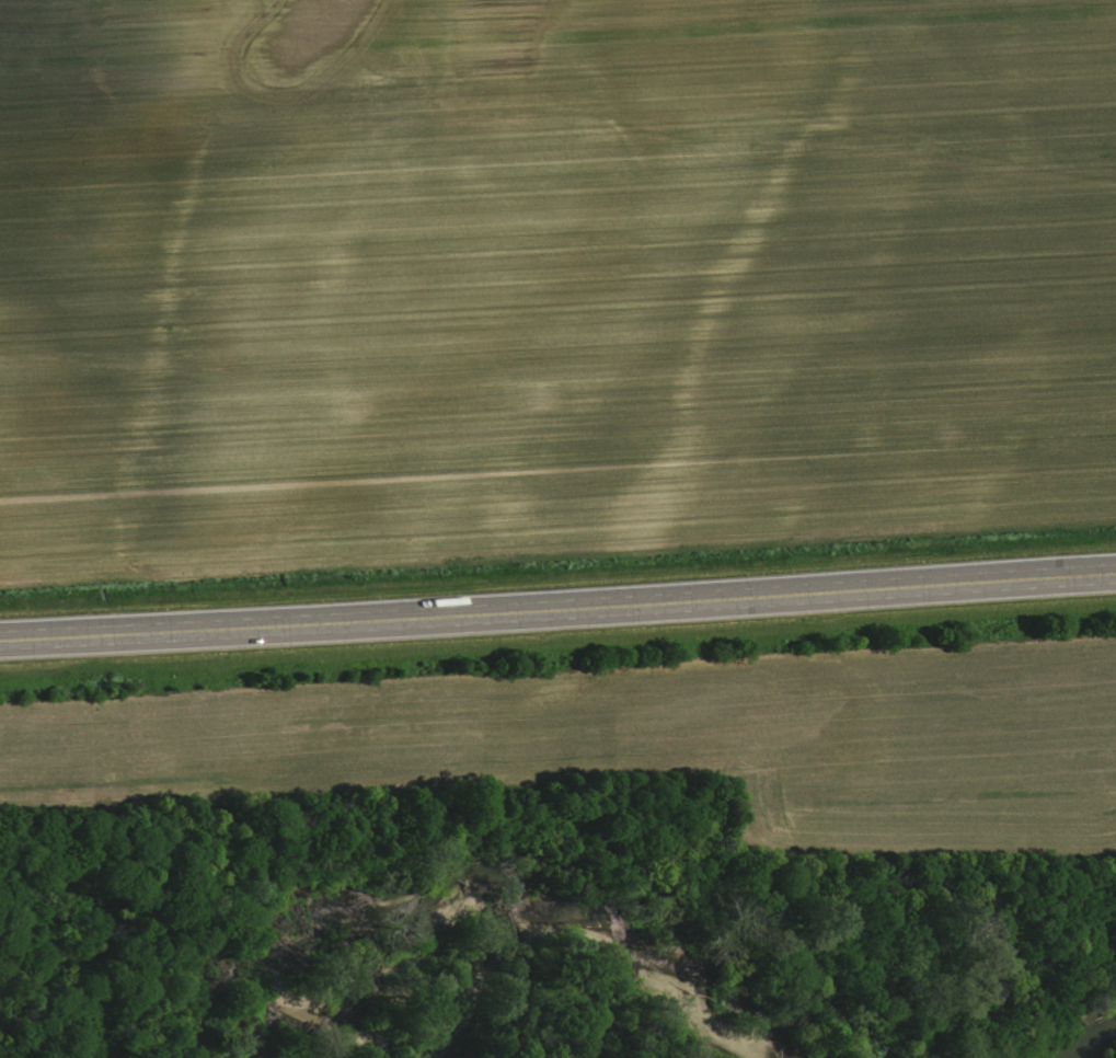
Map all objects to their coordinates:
road: (557, 608)

